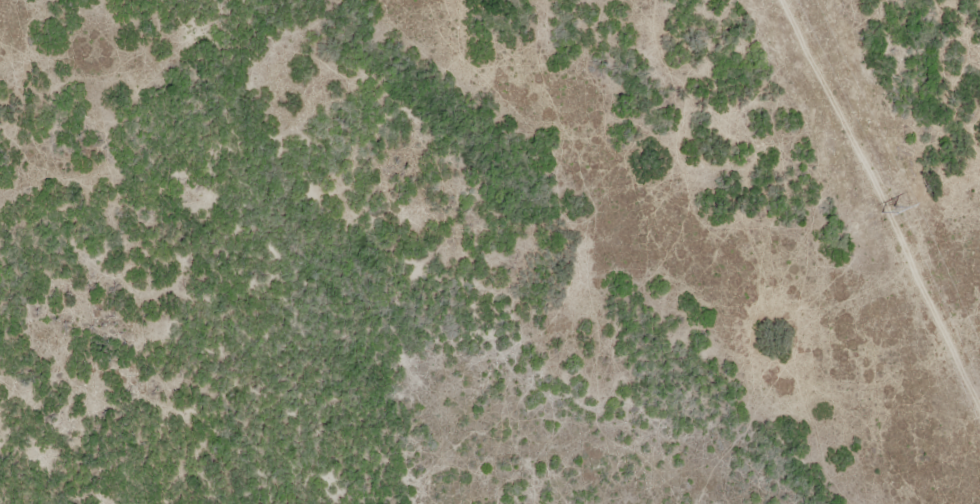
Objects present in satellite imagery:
power tower: (889, 211)

